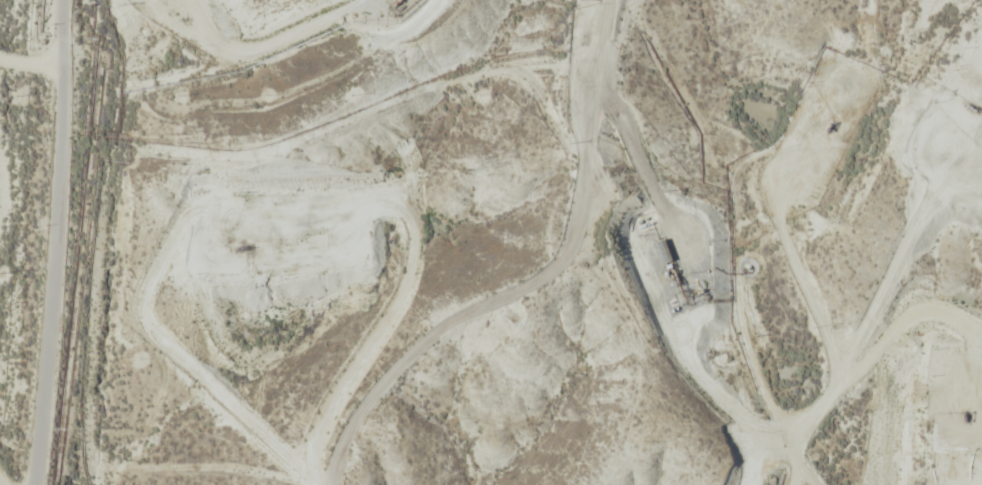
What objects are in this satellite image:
road: (13, 131)
road: (505, 270)
road: (629, 301)
road: (843, 316)

